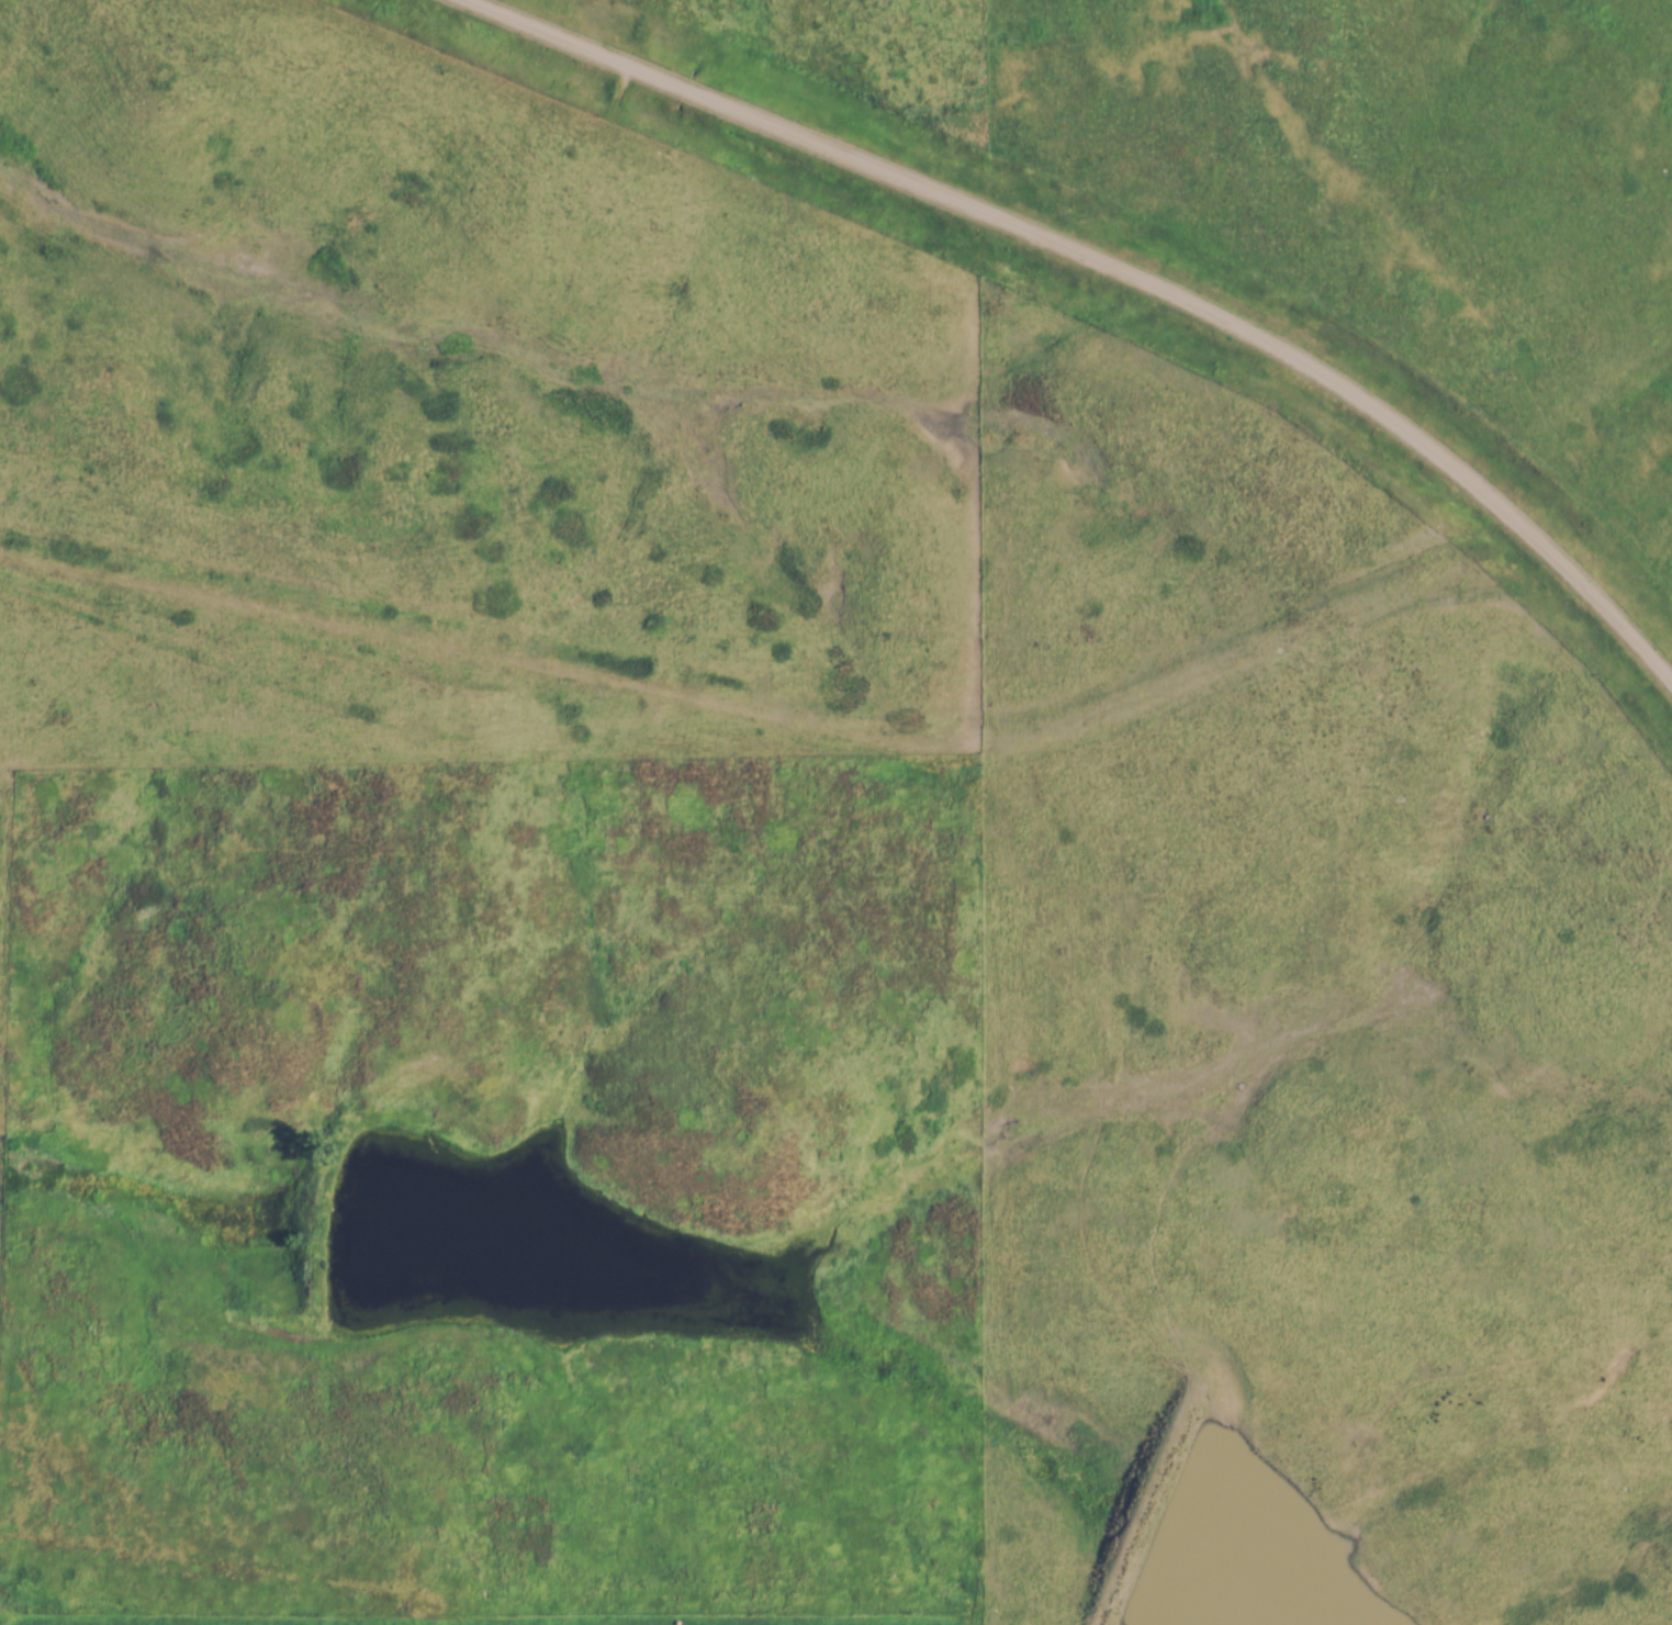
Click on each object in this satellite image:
road: (1115, 272)

